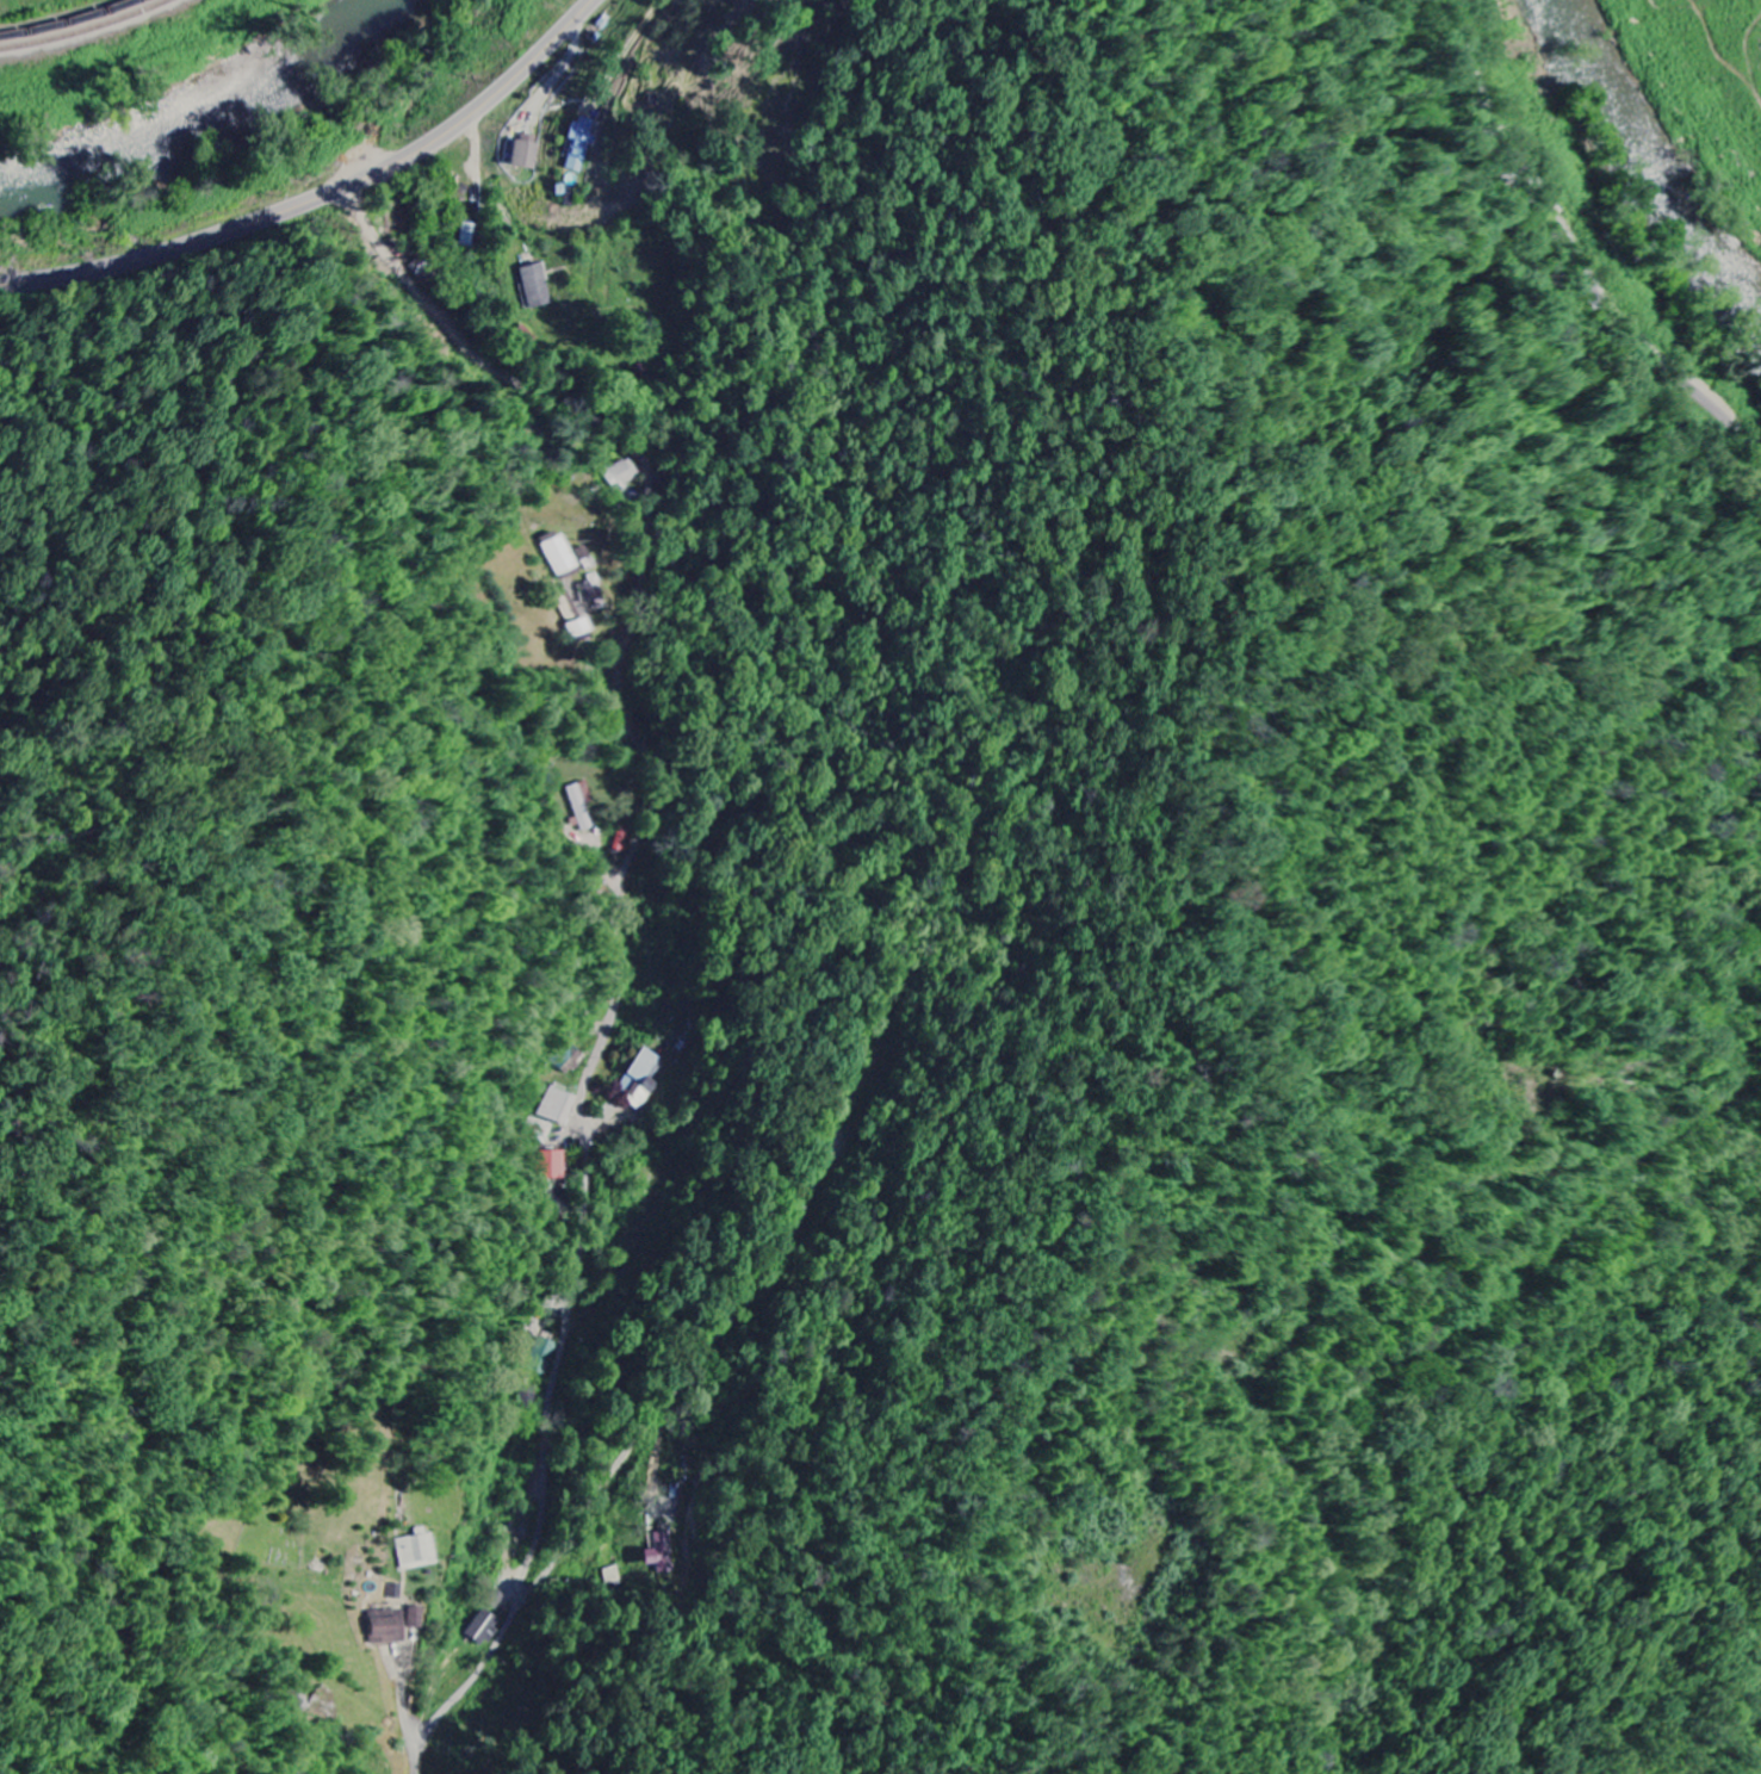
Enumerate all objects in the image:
railway: (70, 23)
railway: (86, 30)
river: (205, 113)
building: (581, 145)
building: (526, 155)
river: (1644, 165)
road: (327, 197)
road: (1569, 250)
building: (535, 286)
building: (559, 557)
building: (579, 806)
road: (619, 920)
building: (638, 1077)
building: (558, 1105)
building: (538, 1130)
road: (672, 1398)
building: (417, 1553)
building: (661, 1553)
building: (416, 1619)
building: (389, 1629)
building: (483, 1630)

